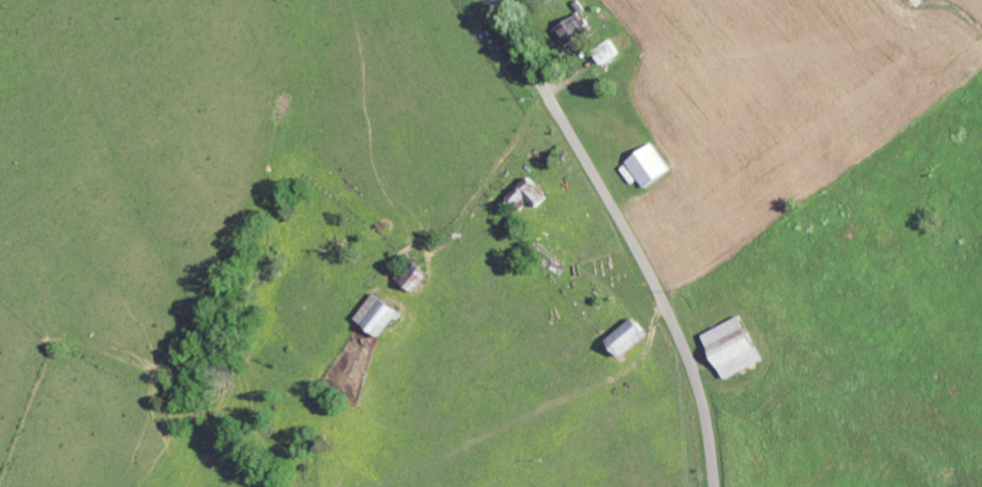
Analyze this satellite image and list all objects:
building: (570, 31)
building: (650, 165)
building: (533, 191)
road: (628, 232)
building: (380, 313)
building: (629, 336)
building: (736, 346)

